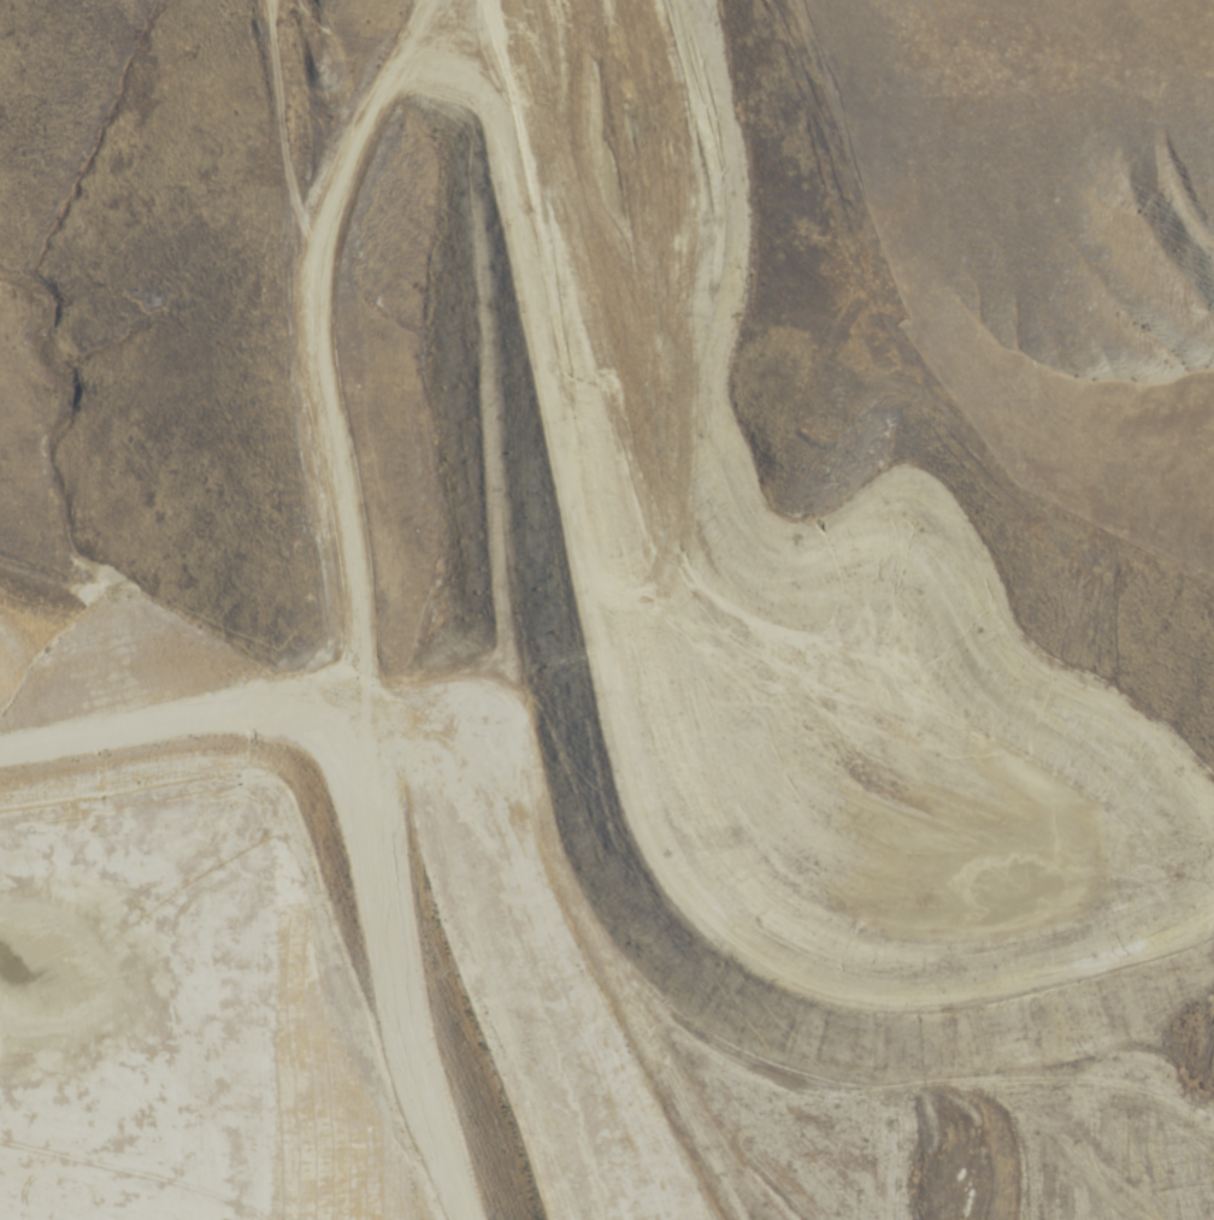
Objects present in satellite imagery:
road: (341, 605)
road: (270, 703)
road: (169, 717)
road: (78, 726)

